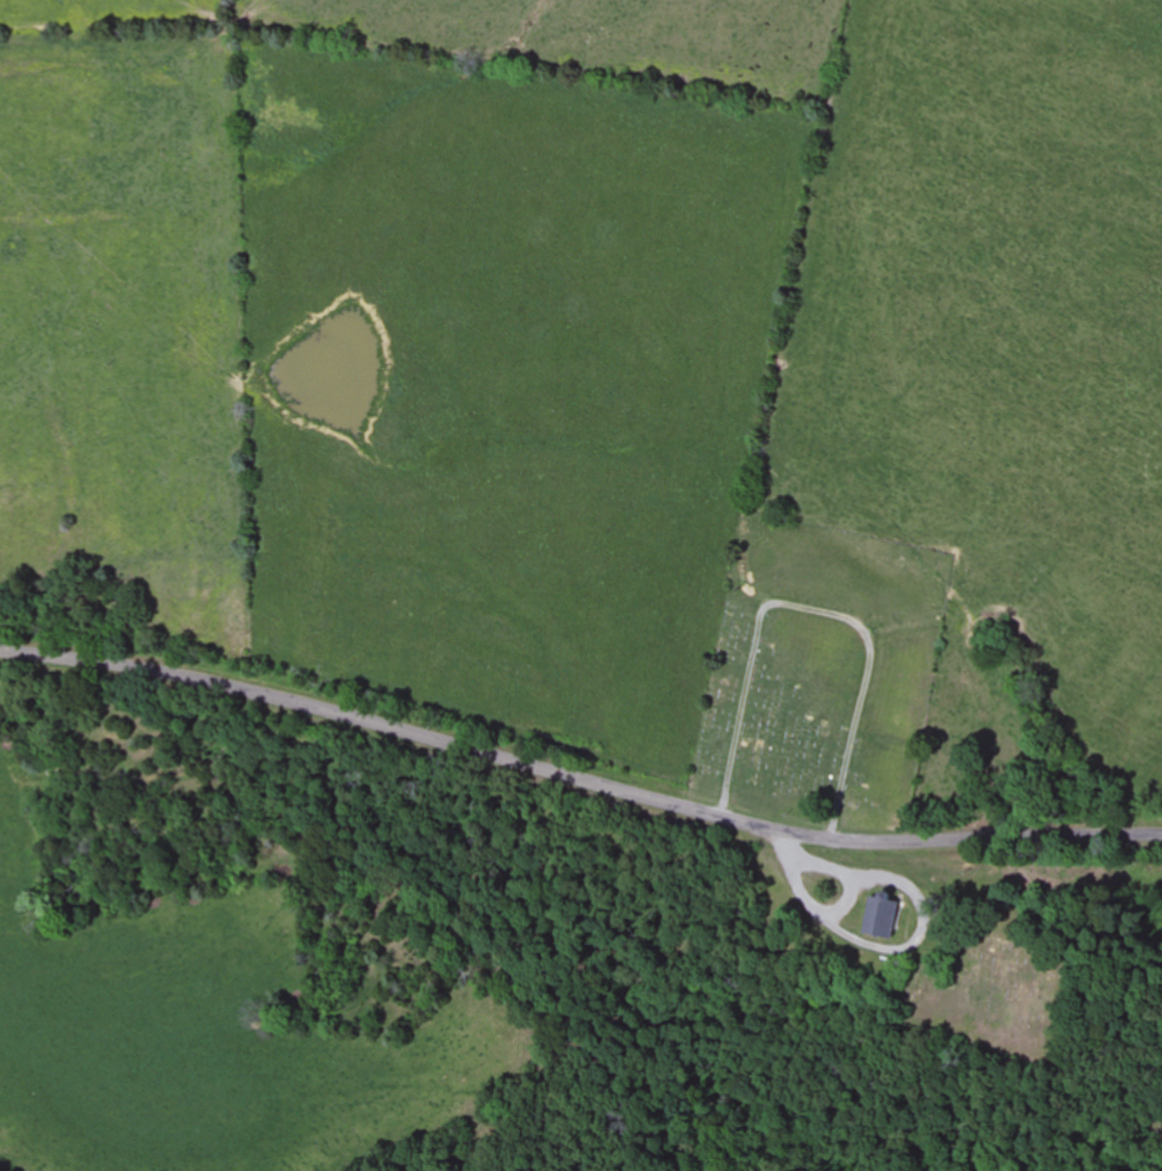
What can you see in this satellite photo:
park: (820, 670)
road: (575, 785)
building: (882, 915)
park: (1002, 962)

